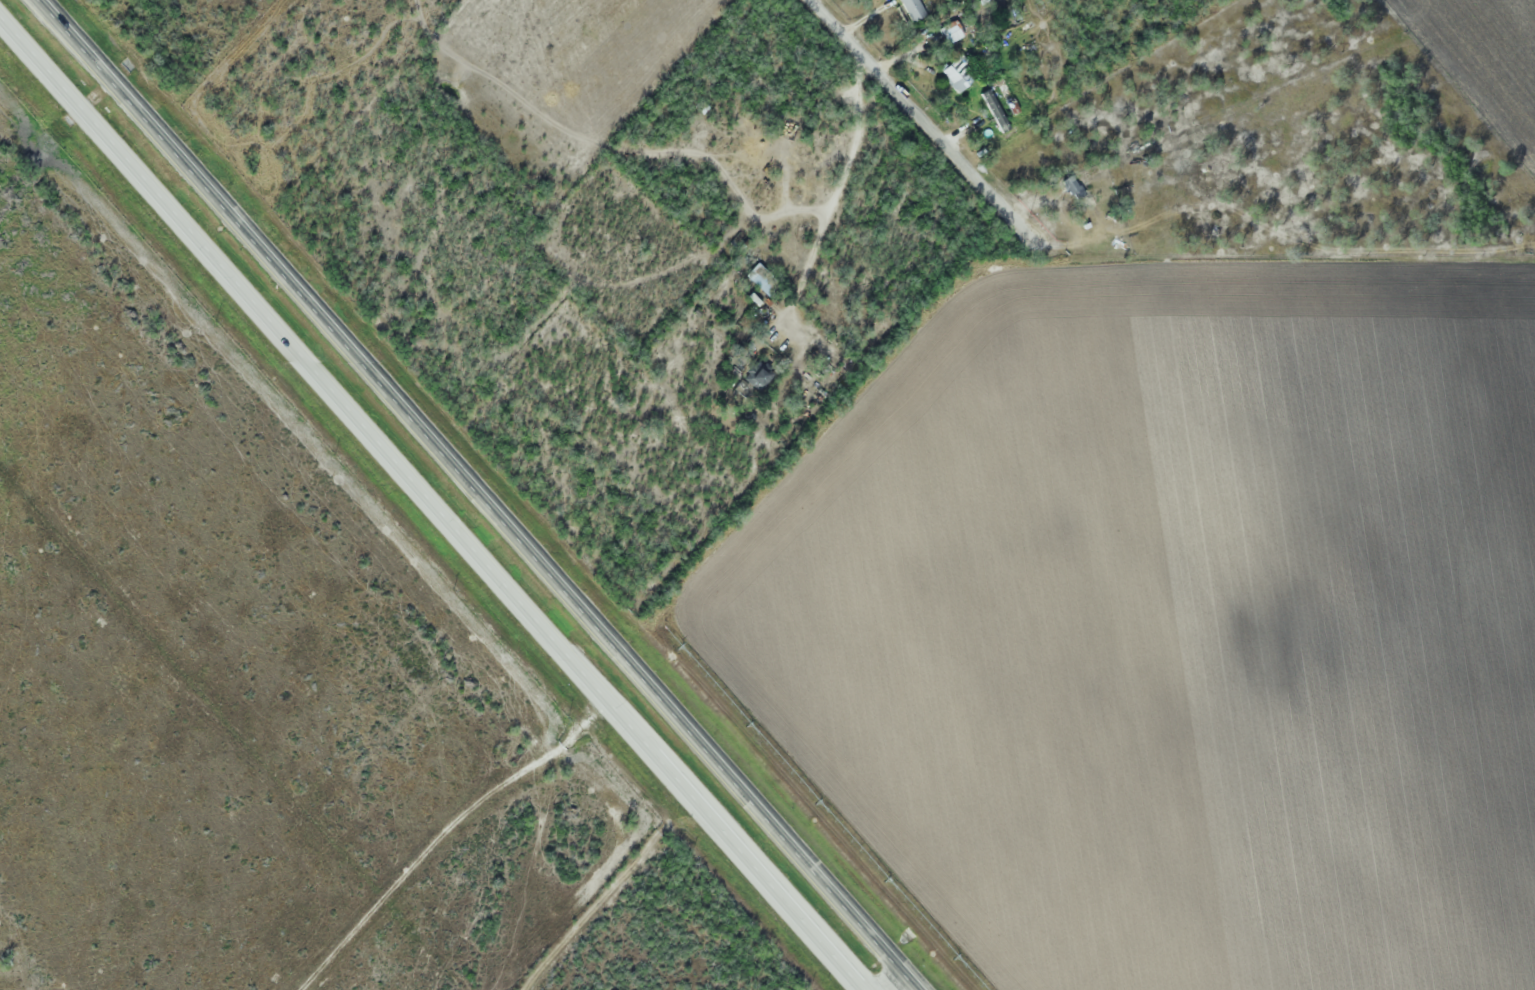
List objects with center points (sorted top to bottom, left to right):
building: (914, 9)
building: (953, 30)
building: (958, 73)
road: (920, 119)
building: (1073, 187)
building: (762, 280)
building: (759, 374)
road: (484, 494)
road: (431, 504)
road: (607, 893)
road: (893, 979)

